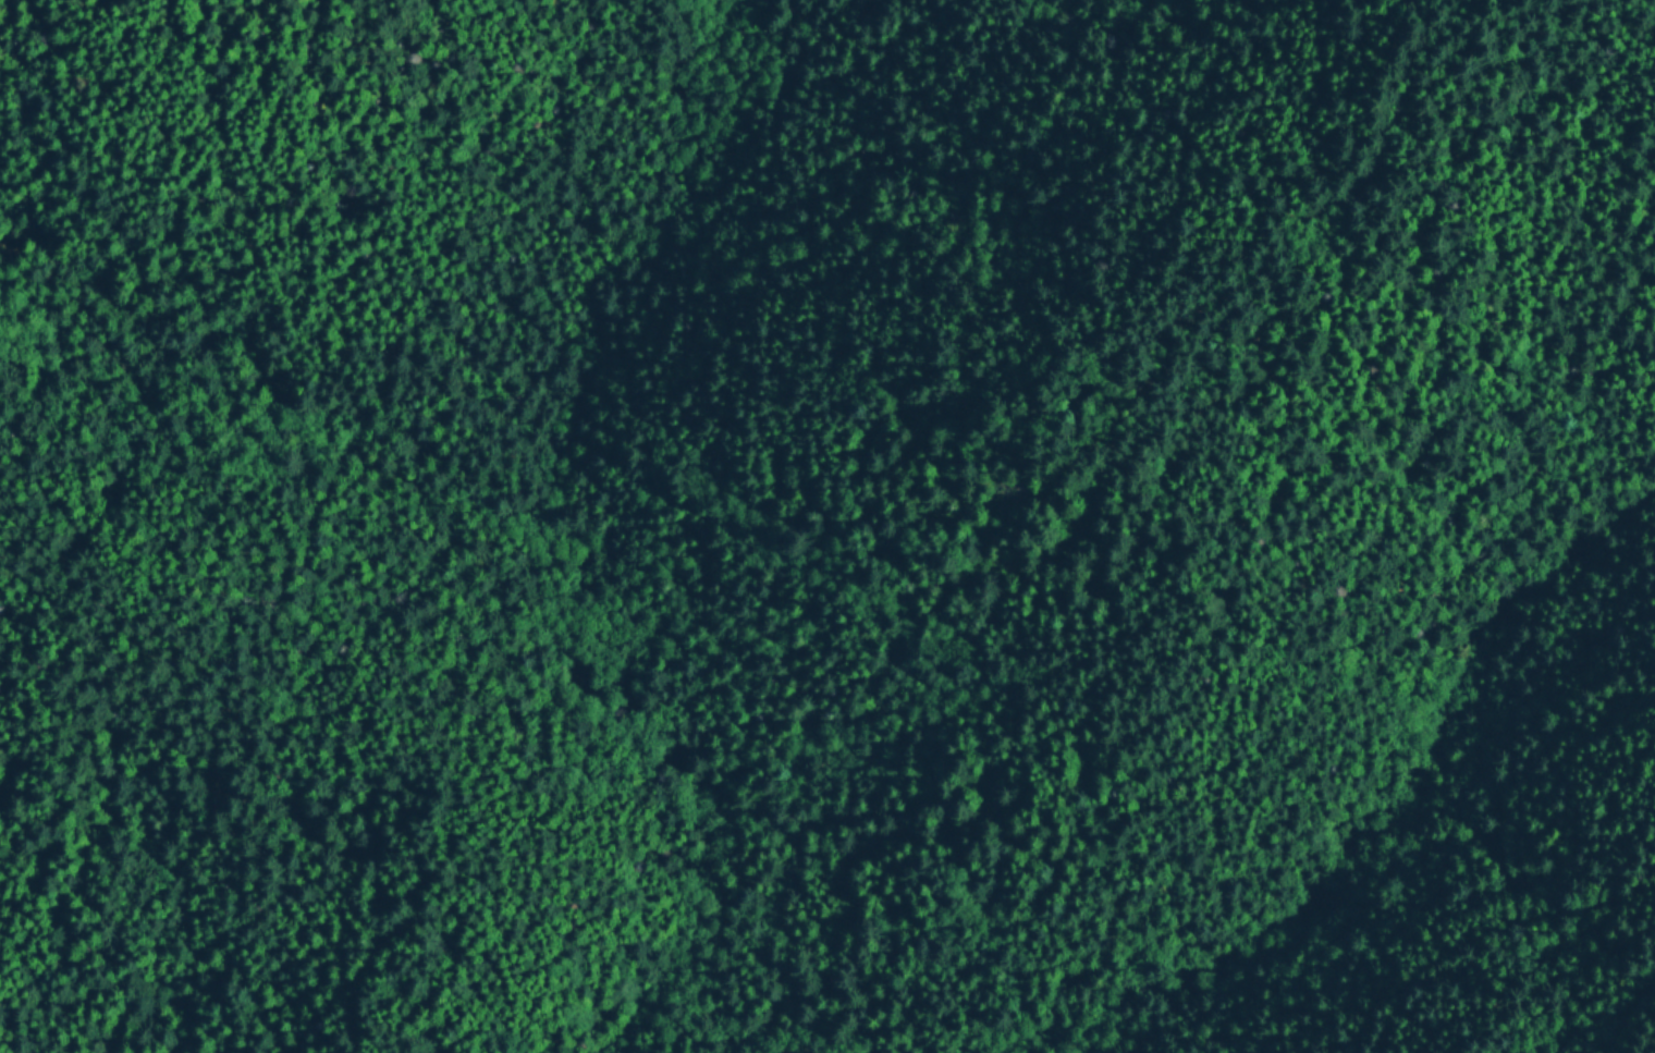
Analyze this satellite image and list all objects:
road: (1420, 103)

